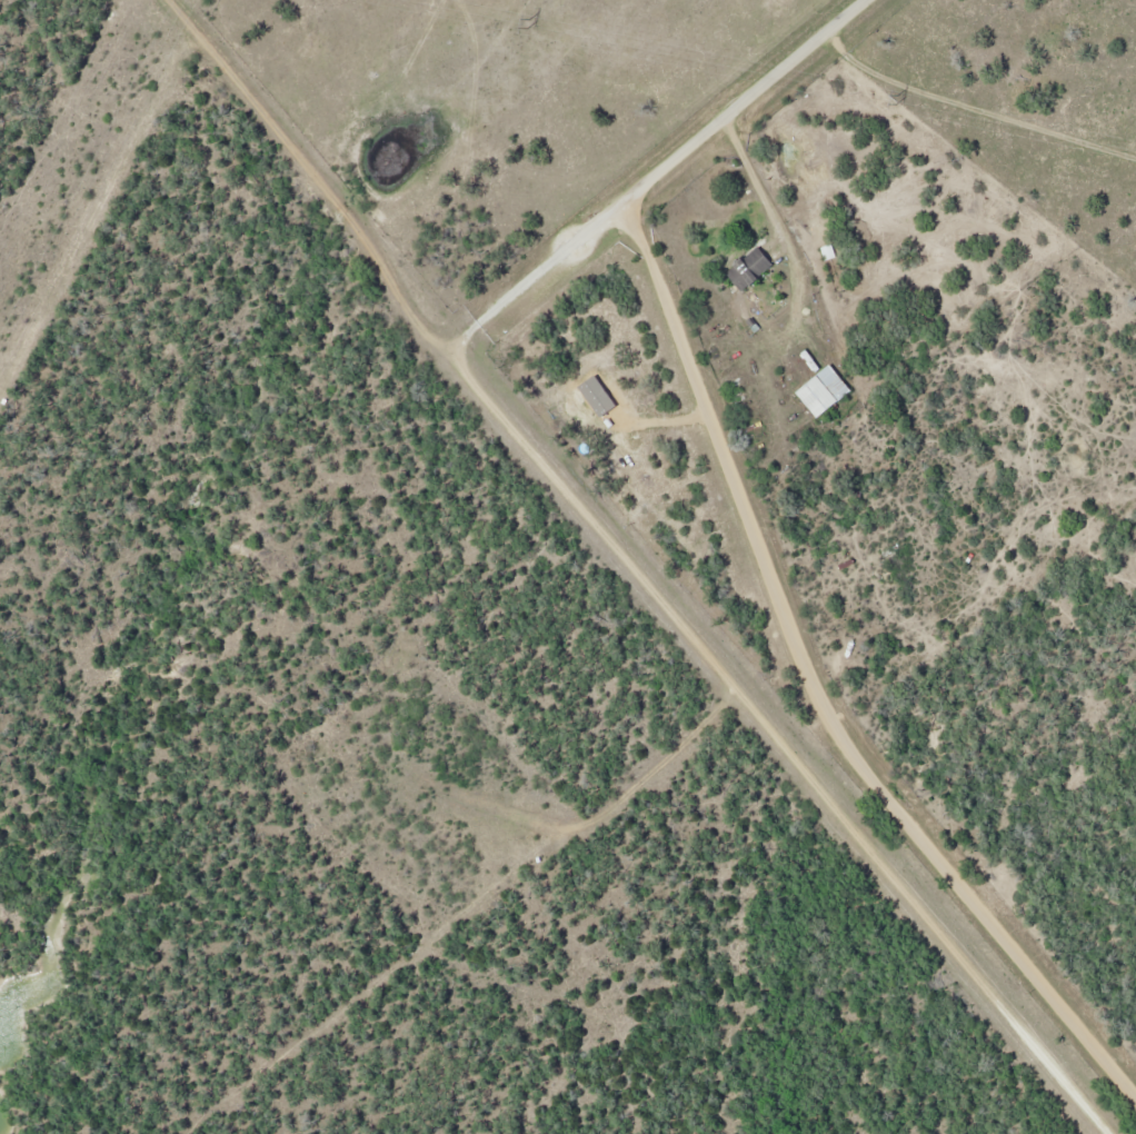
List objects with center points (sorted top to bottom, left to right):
power tower: (529, 22)
power tower: (896, 98)
road: (751, 102)
road: (779, 231)
building: (753, 268)
road: (537, 278)
building: (827, 390)
road: (637, 569)
road: (818, 686)
road: (605, 812)

